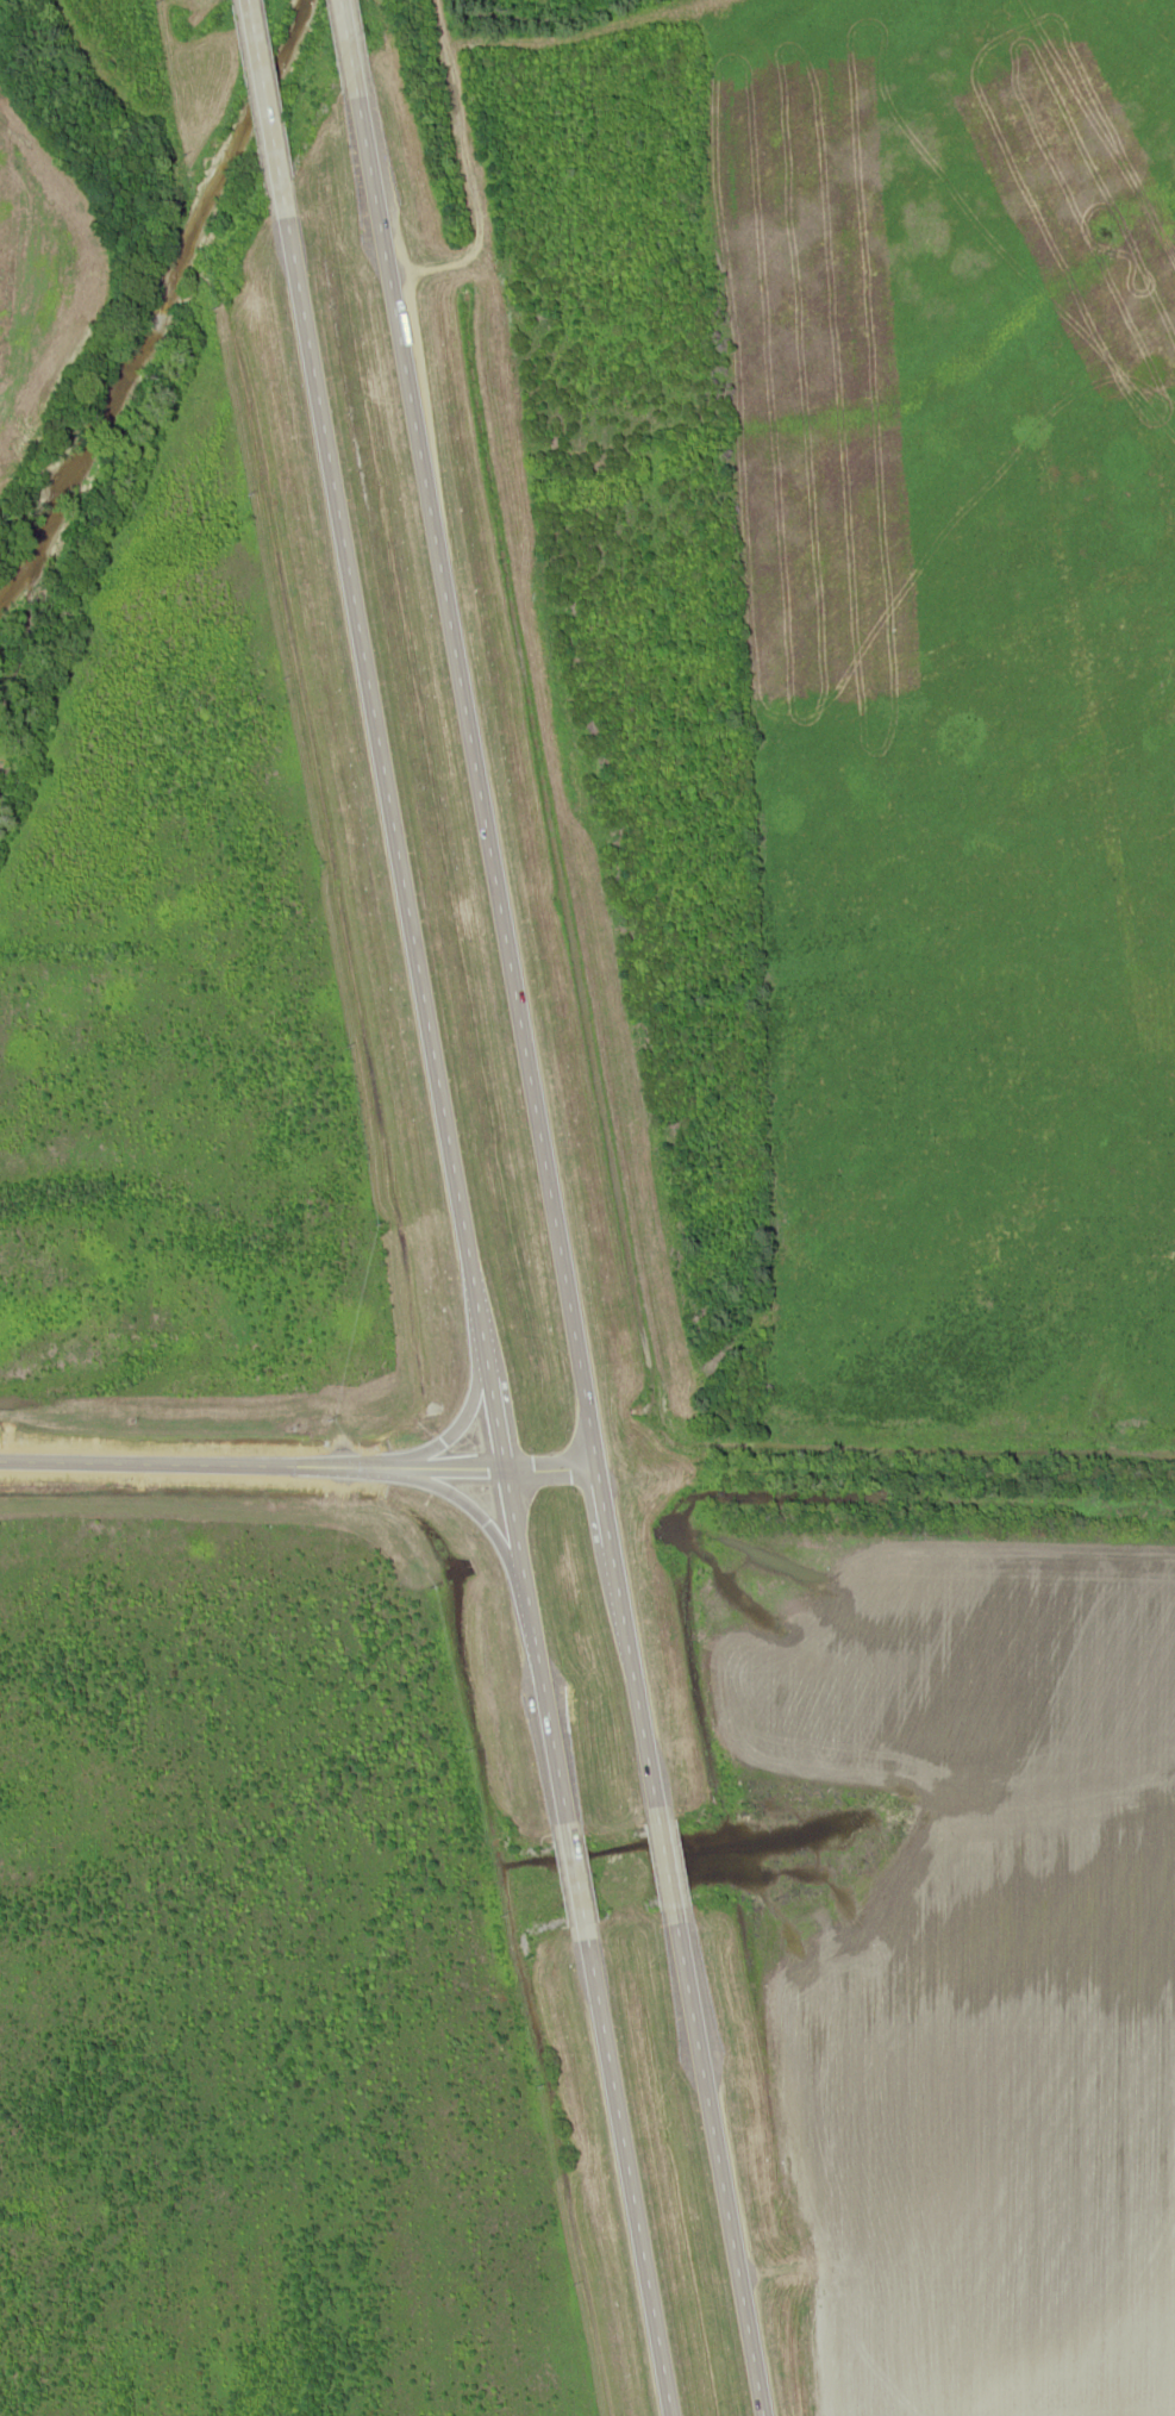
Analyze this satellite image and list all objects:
road: (345, 49)
road: (264, 108)
road: (476, 785)
road: (385, 794)
road: (494, 1421)
road: (299, 1466)
road: (604, 1509)
road: (532, 1647)
road: (632, 1677)
road: (662, 1858)
road: (573, 1881)
road: (715, 2161)
road: (626, 2178)

